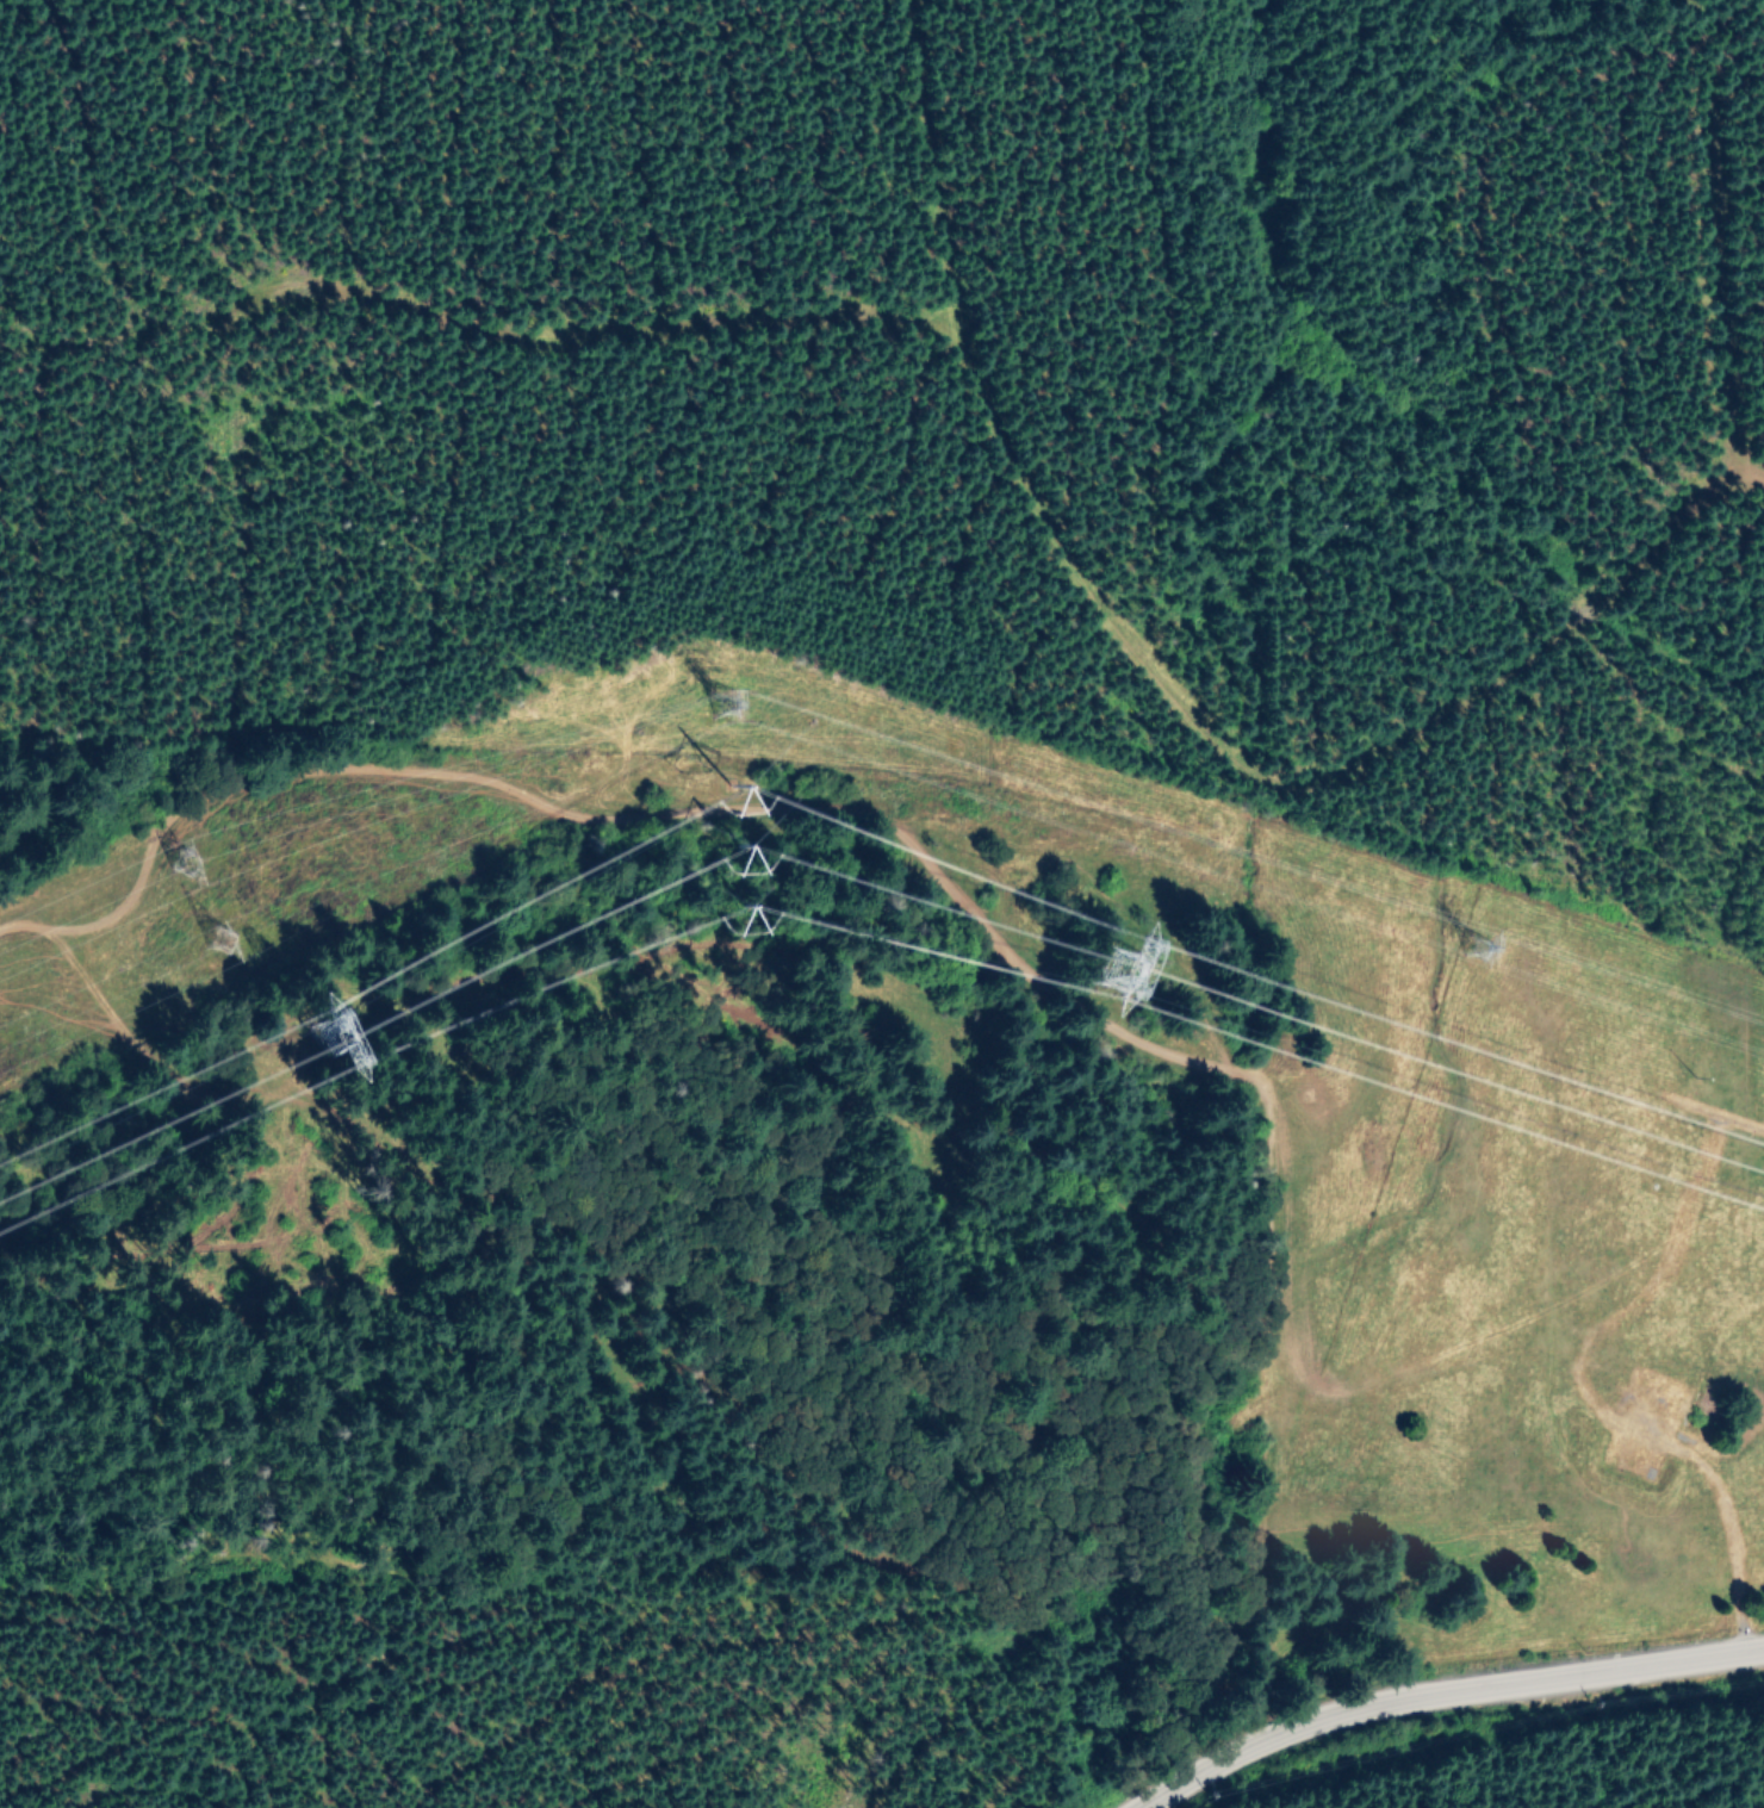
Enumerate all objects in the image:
power tower: (731, 716)
power tower: (745, 866)
power tower: (191, 871)
road: (936, 890)
power tower: (225, 943)
power tower: (1482, 944)
power tower: (1117, 977)
power tower: (337, 1042)
road: (1603, 1393)
road: (1440, 1695)

